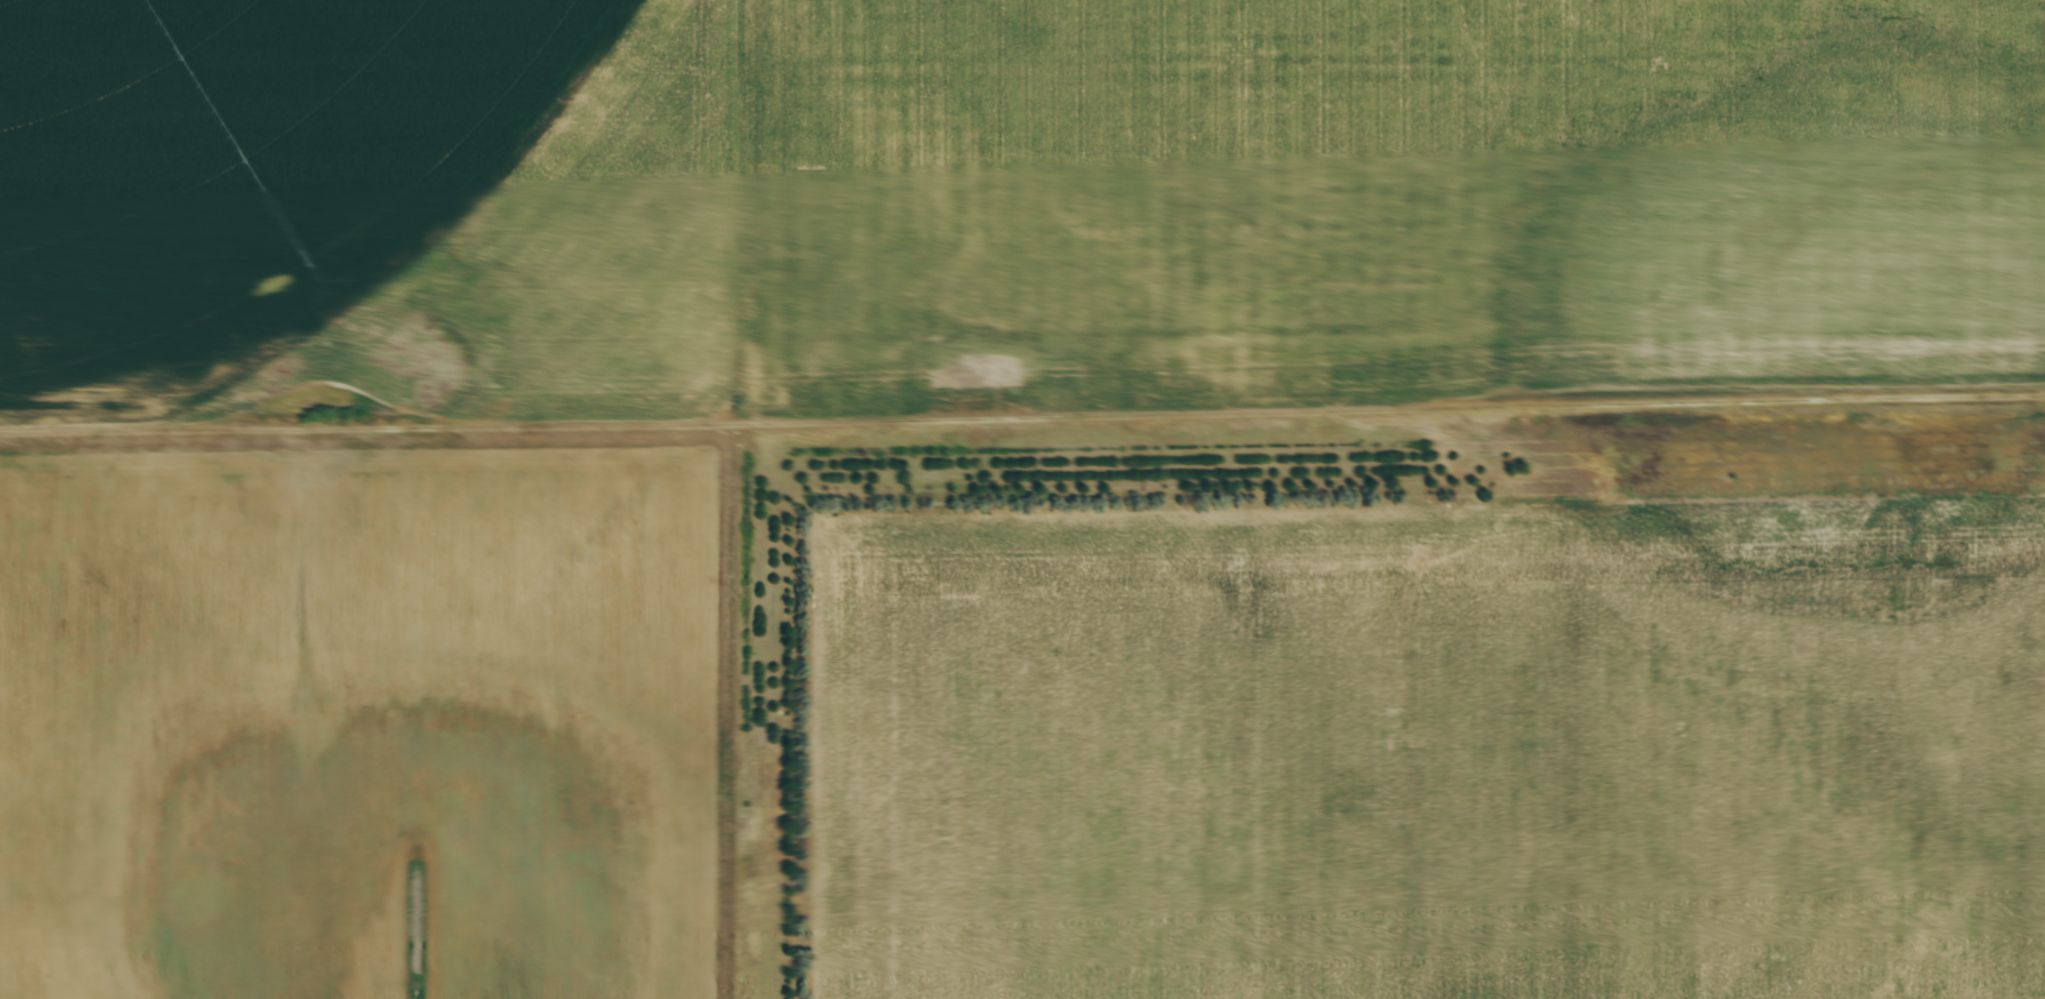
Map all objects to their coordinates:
crop: (357, 726)
crop: (1432, 753)

